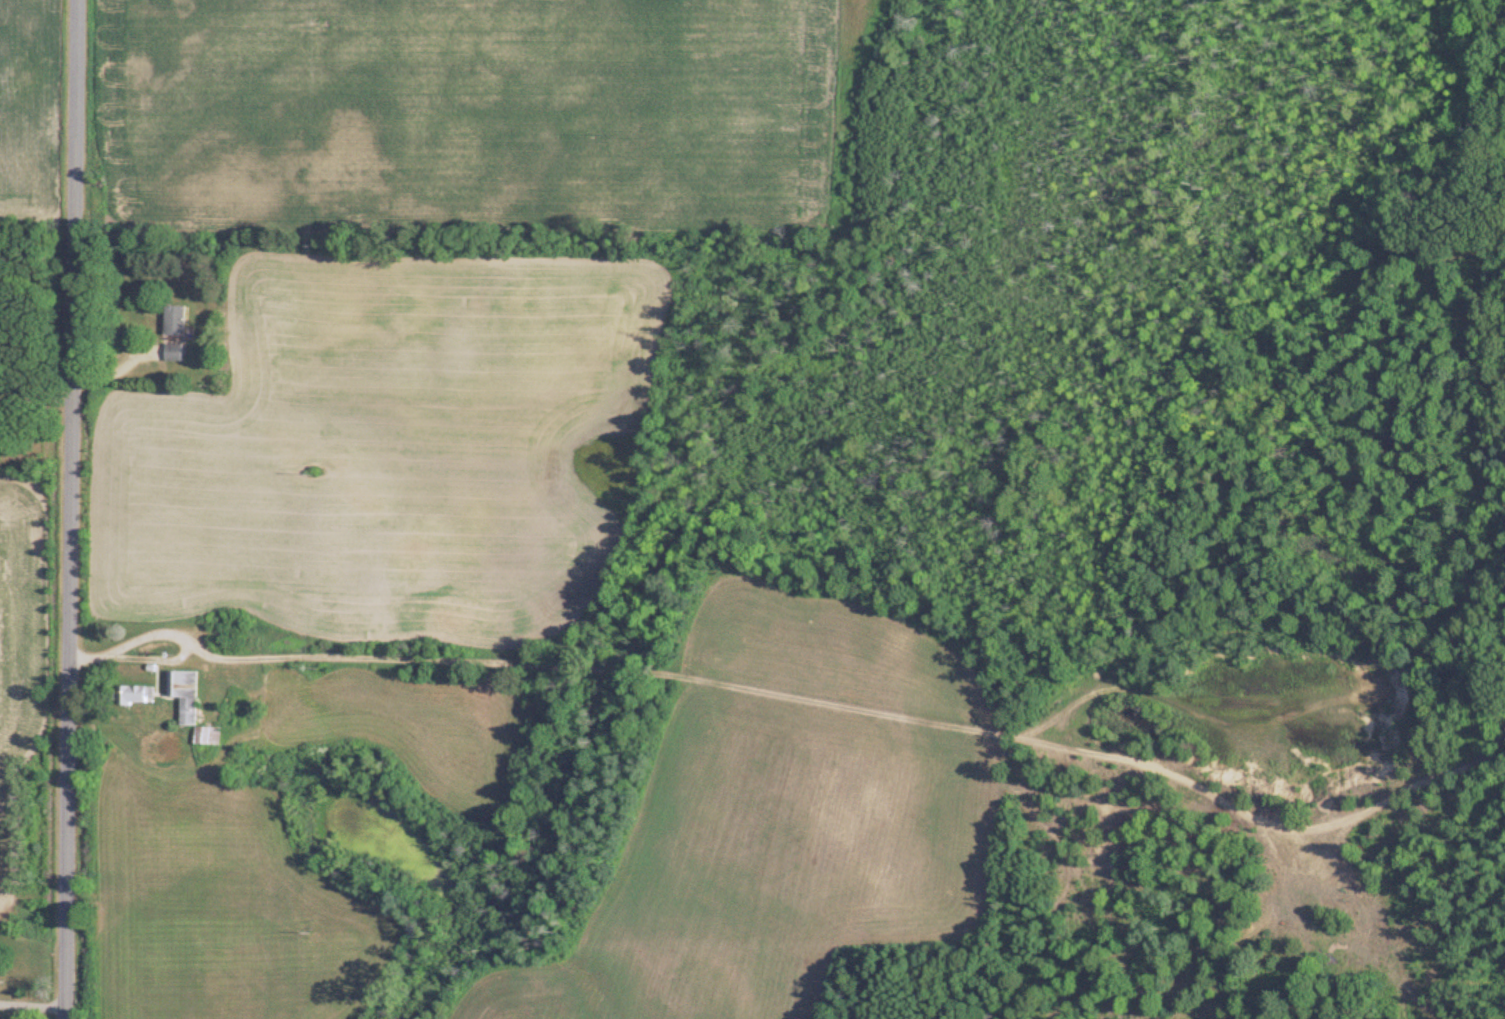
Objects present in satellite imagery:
road: (66, 509)
road: (201, 647)
building: (188, 705)
road: (29, 1005)

